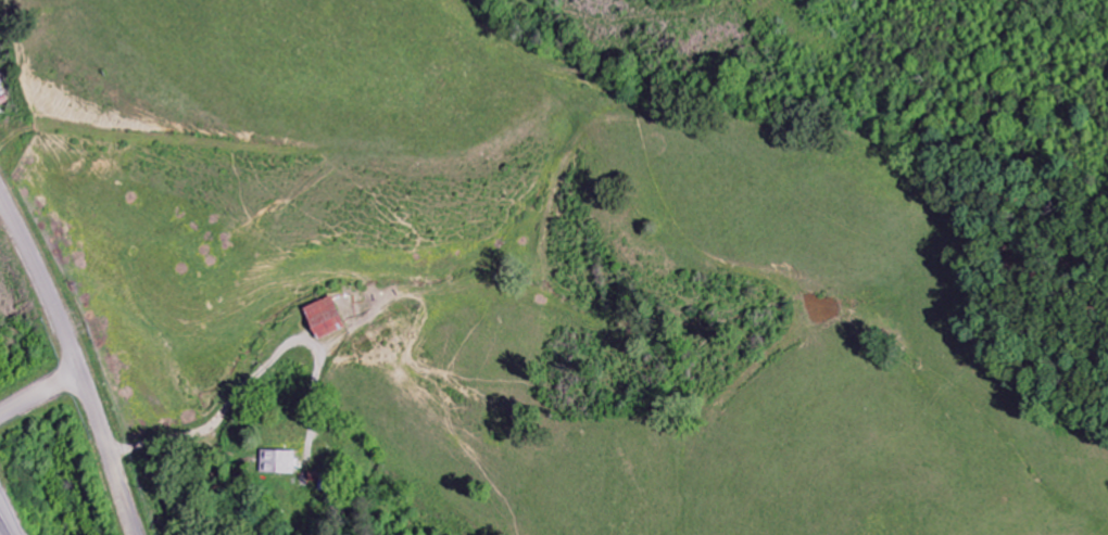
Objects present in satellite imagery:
building: (322, 318)
road: (76, 364)
road: (40, 396)
building: (279, 462)
road: (4, 526)

